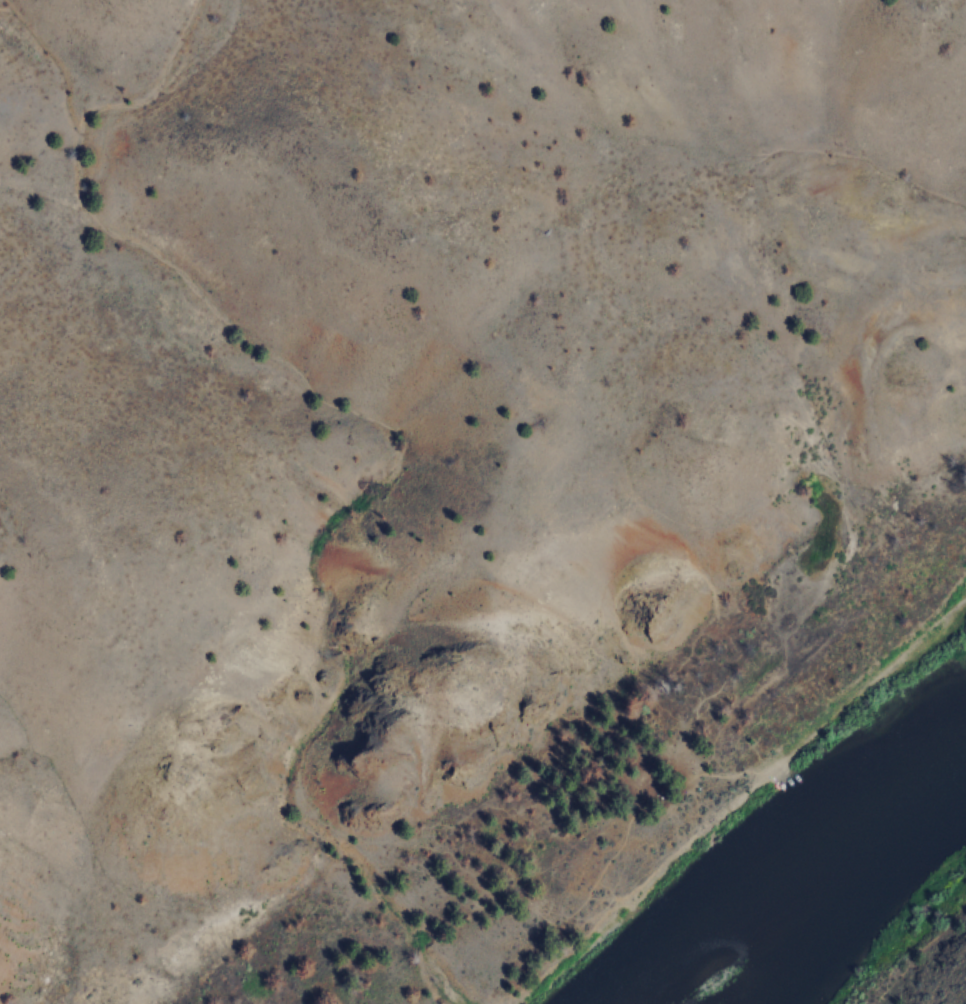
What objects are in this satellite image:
river: (810, 880)

